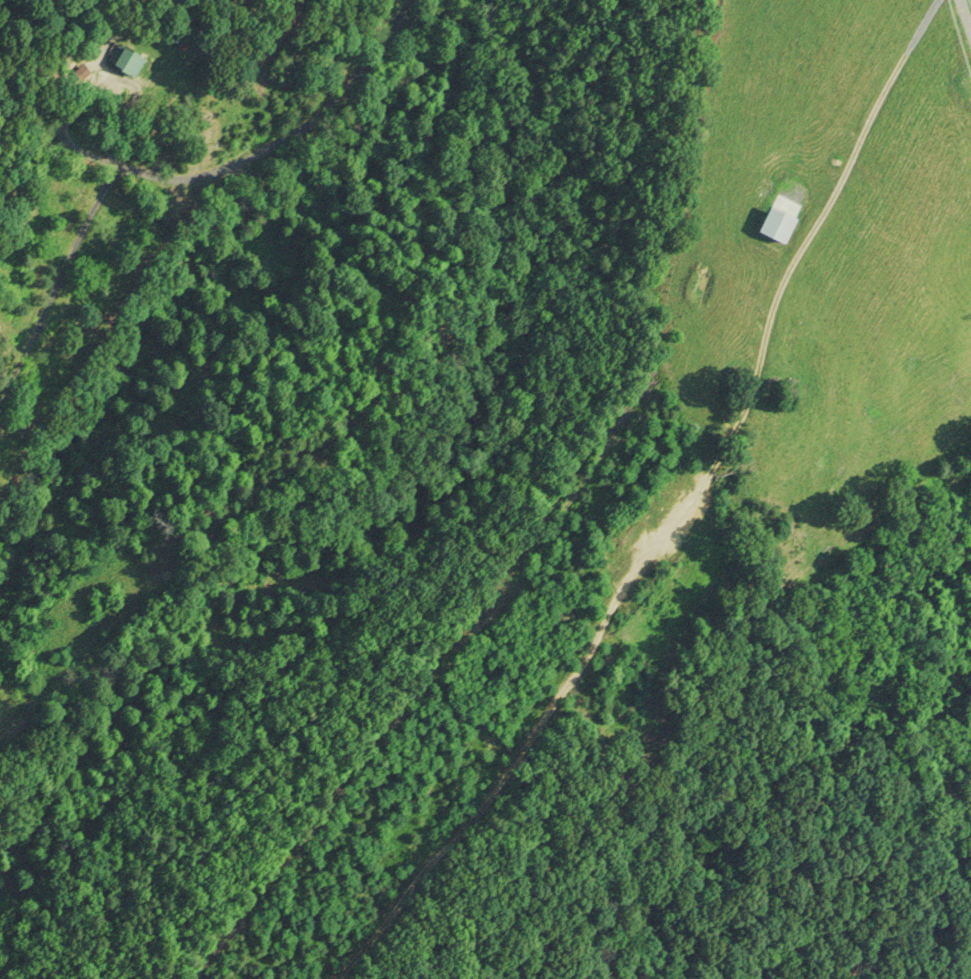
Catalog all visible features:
road: (947, 2)
building: (130, 60)
road: (152, 162)

